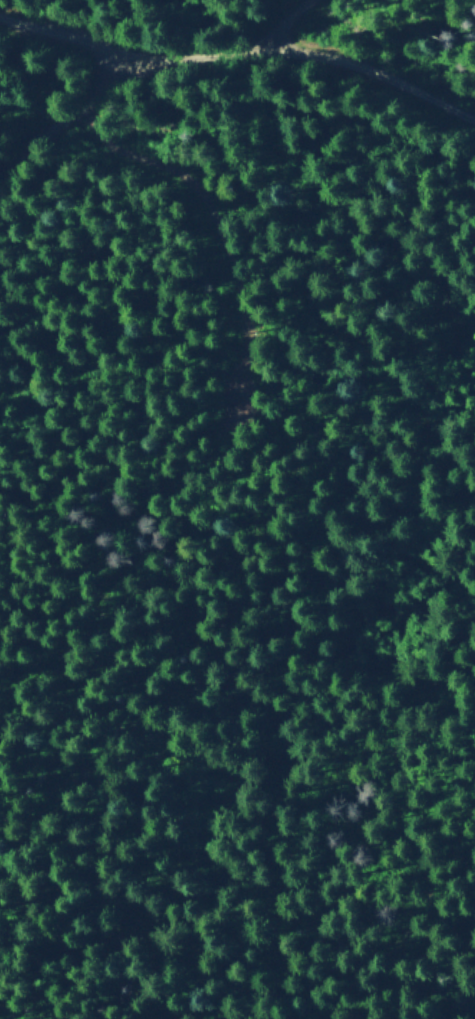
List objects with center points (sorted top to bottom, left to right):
road: (261, 65)

